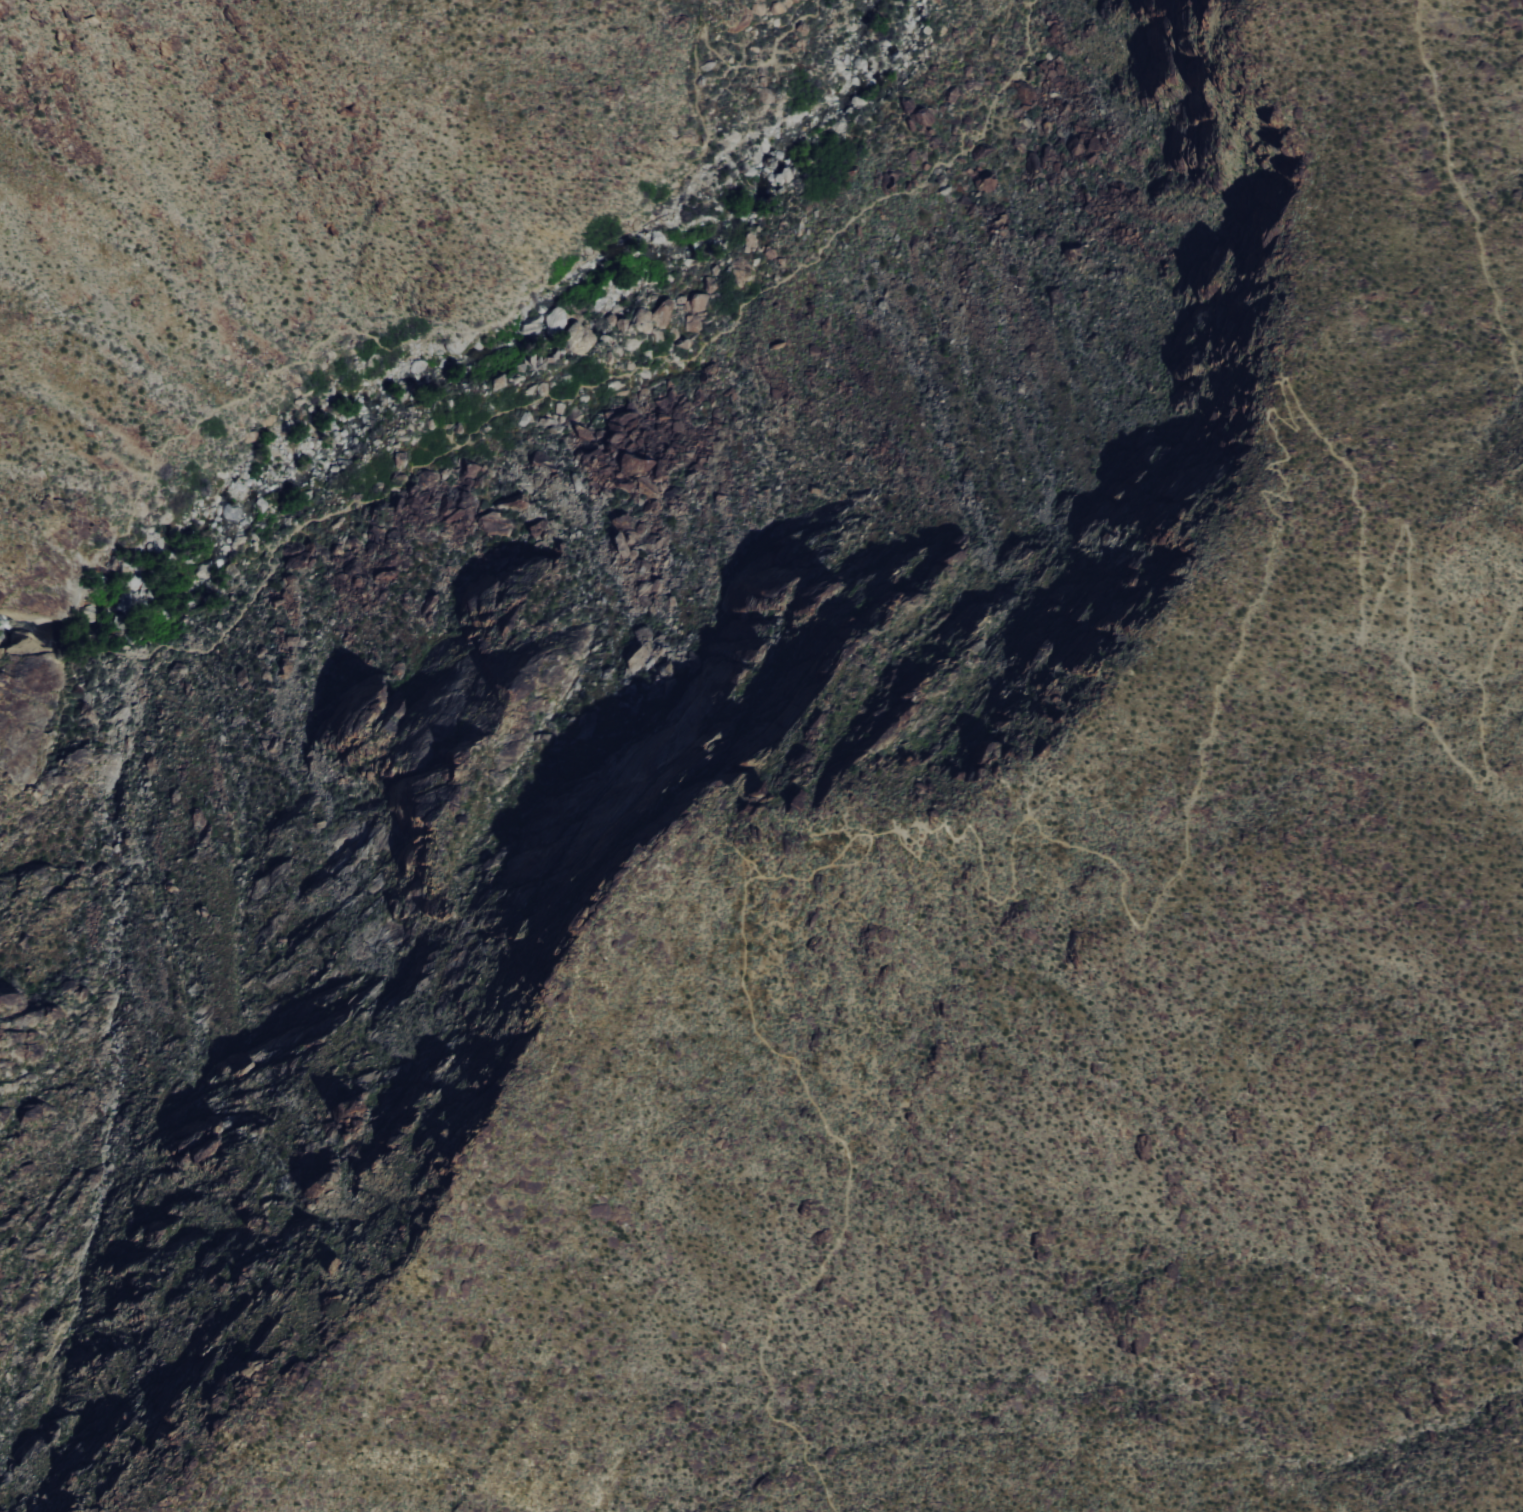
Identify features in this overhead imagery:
road: (1460, 188)
road: (110, 661)
road: (1191, 834)

